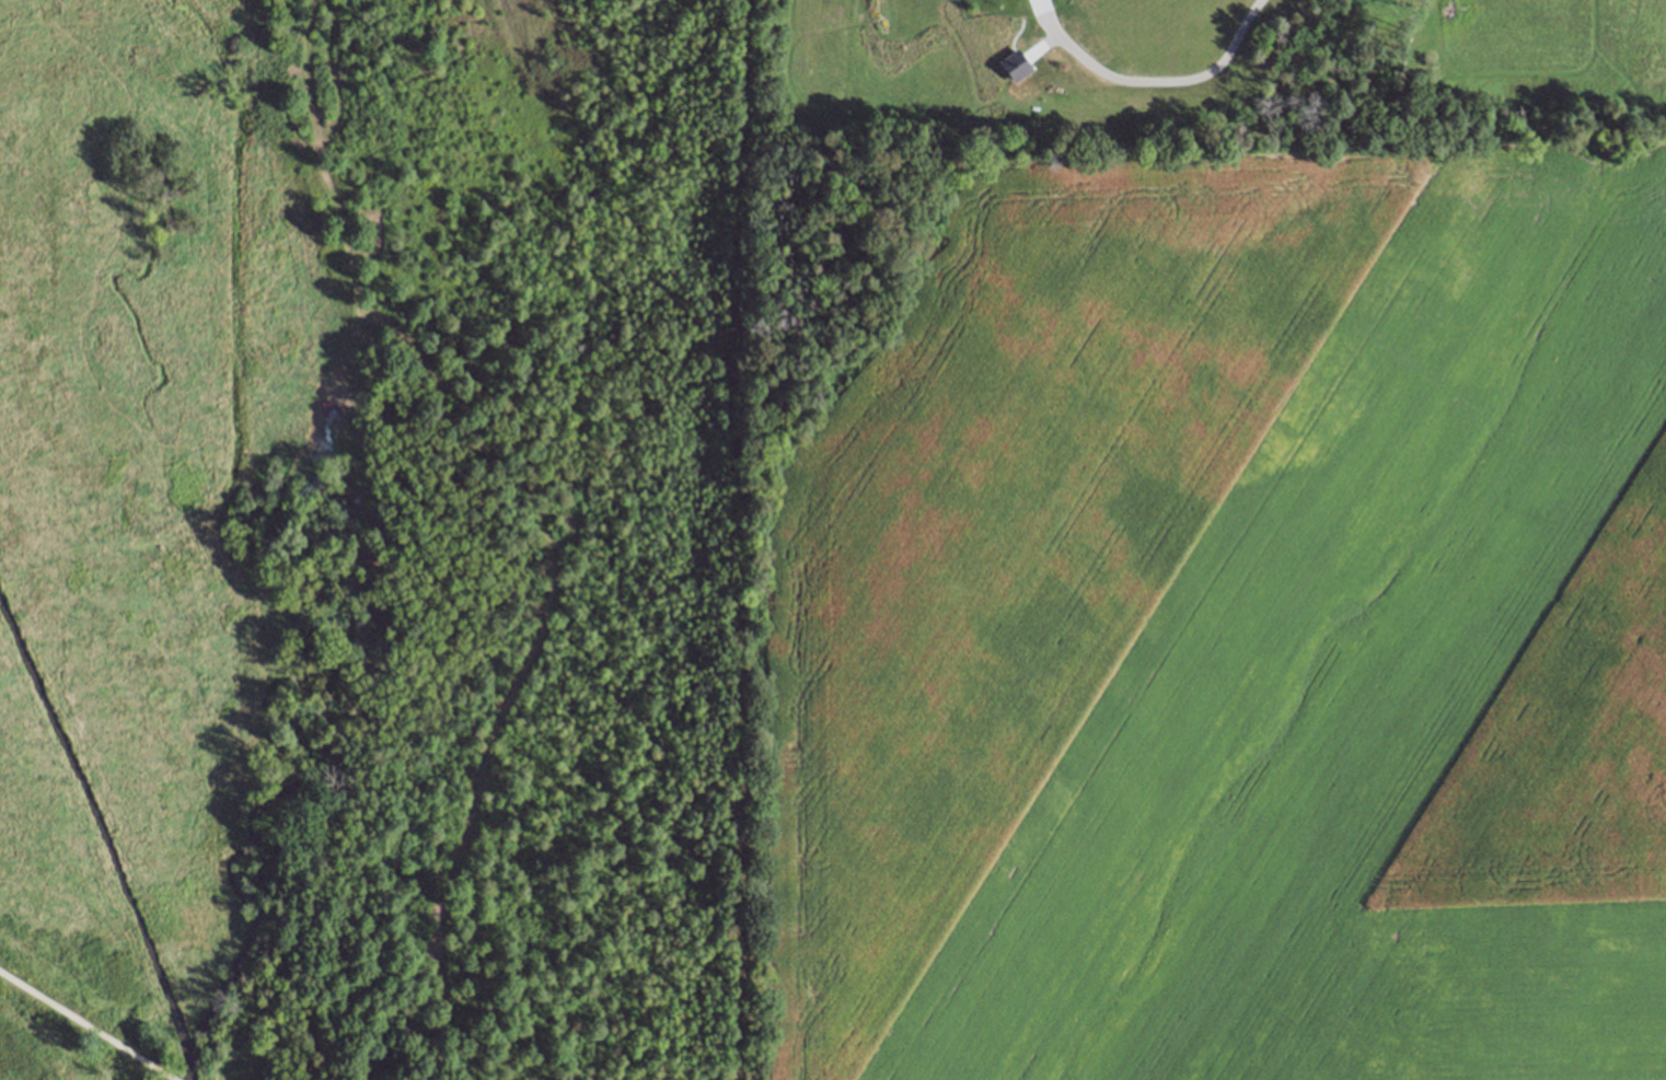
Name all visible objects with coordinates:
road: (1152, 81)
road: (355, 268)
road: (74, 1020)
road: (160, 1073)

